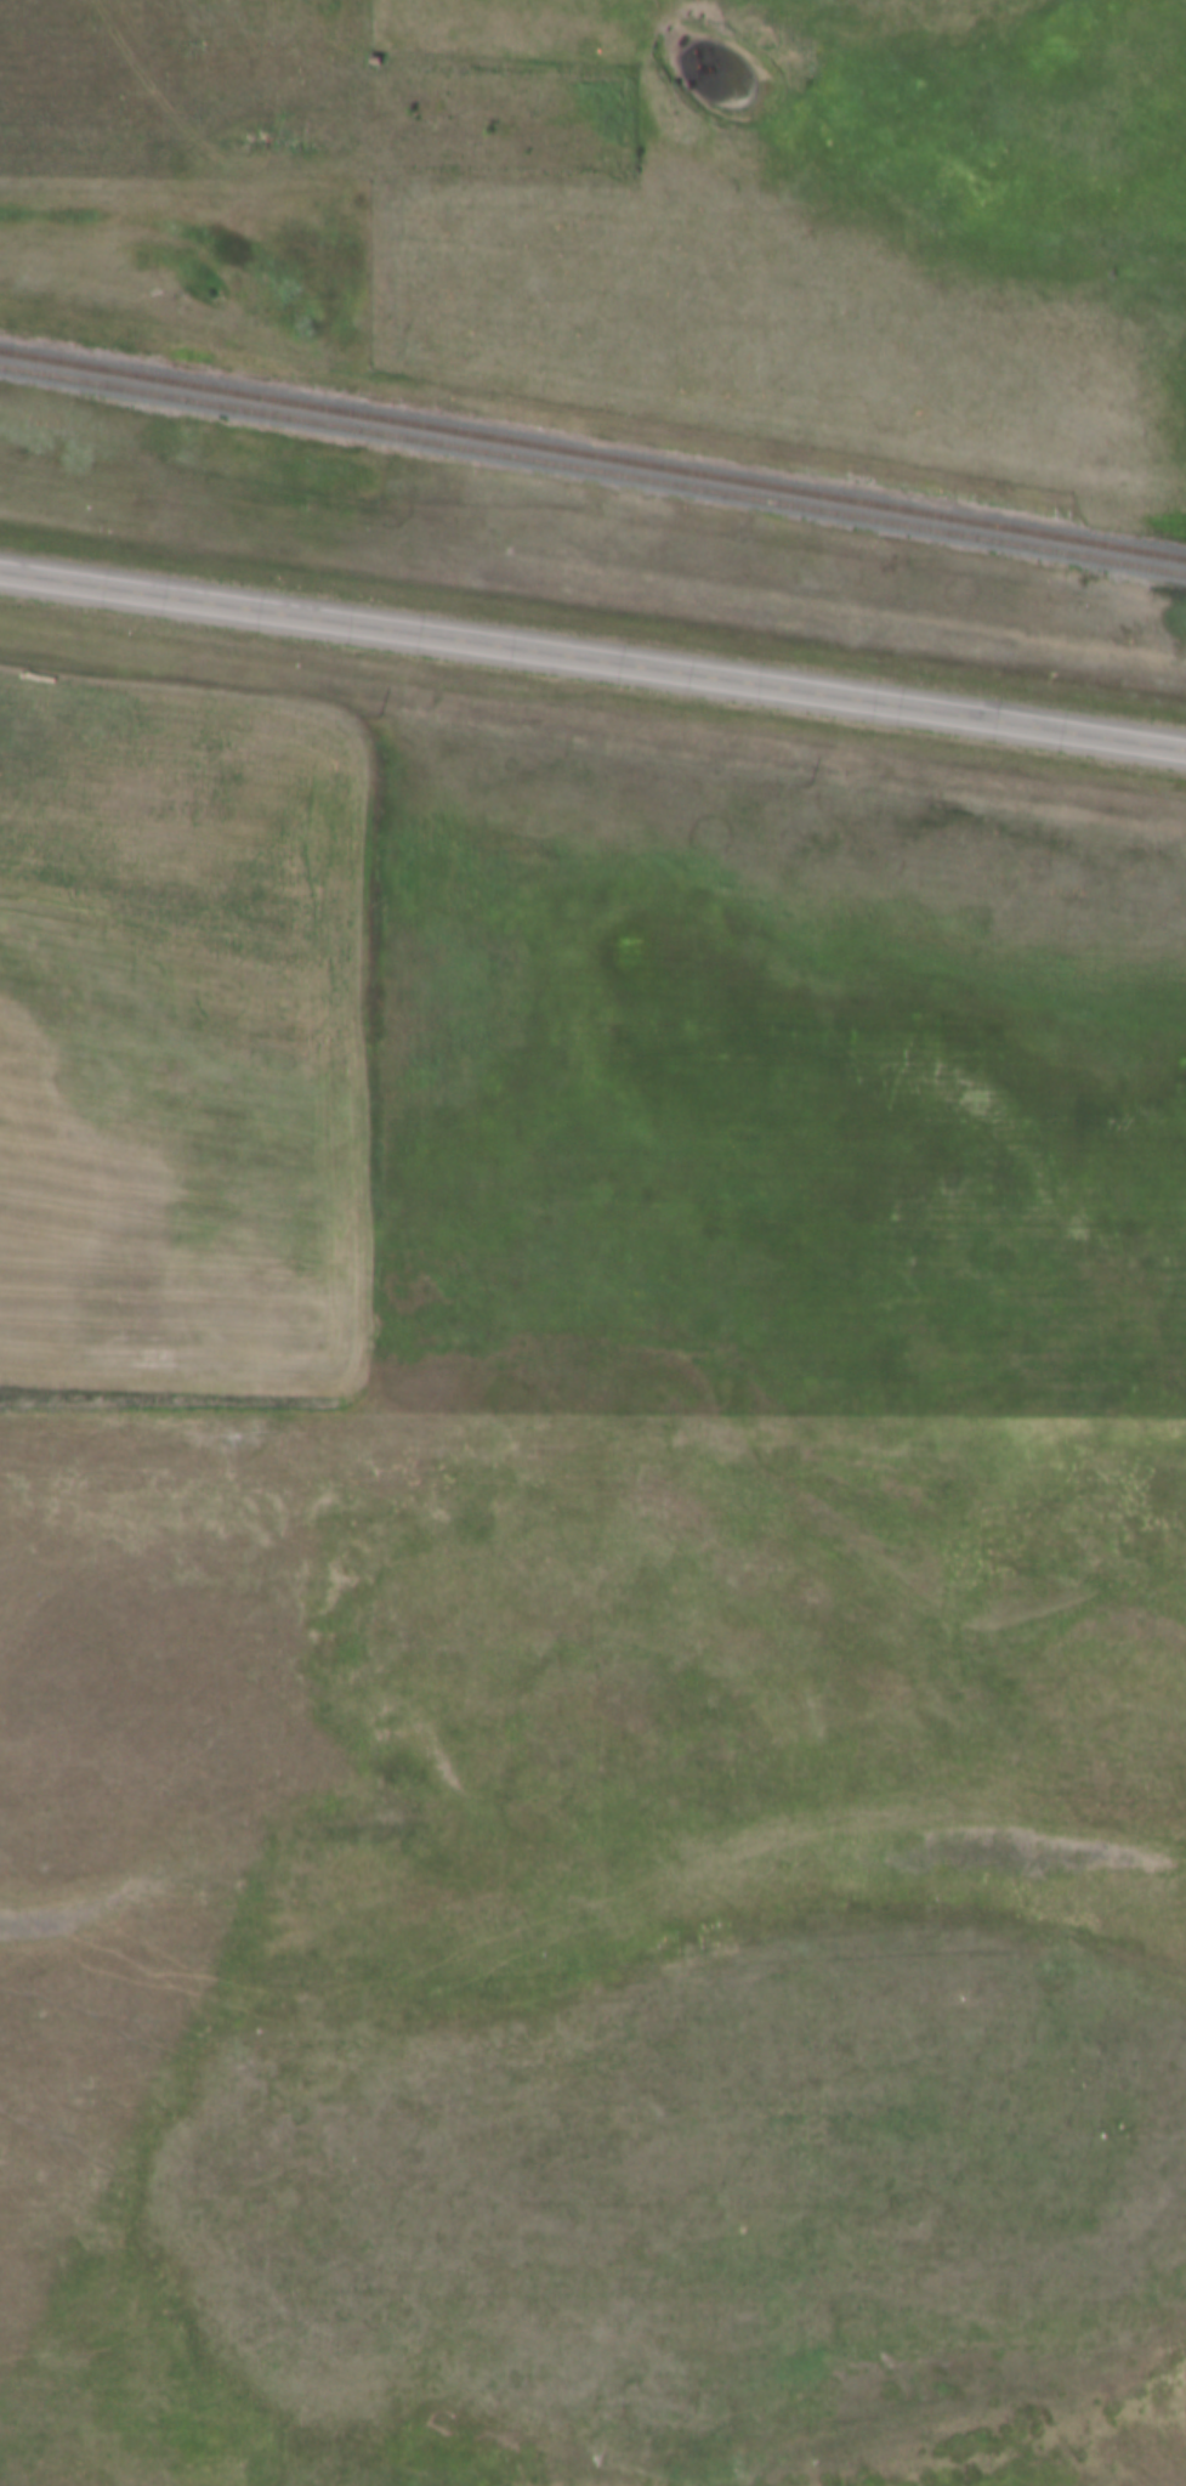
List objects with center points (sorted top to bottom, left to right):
railway: (592, 455)
railway: (592, 471)
road: (592, 657)

